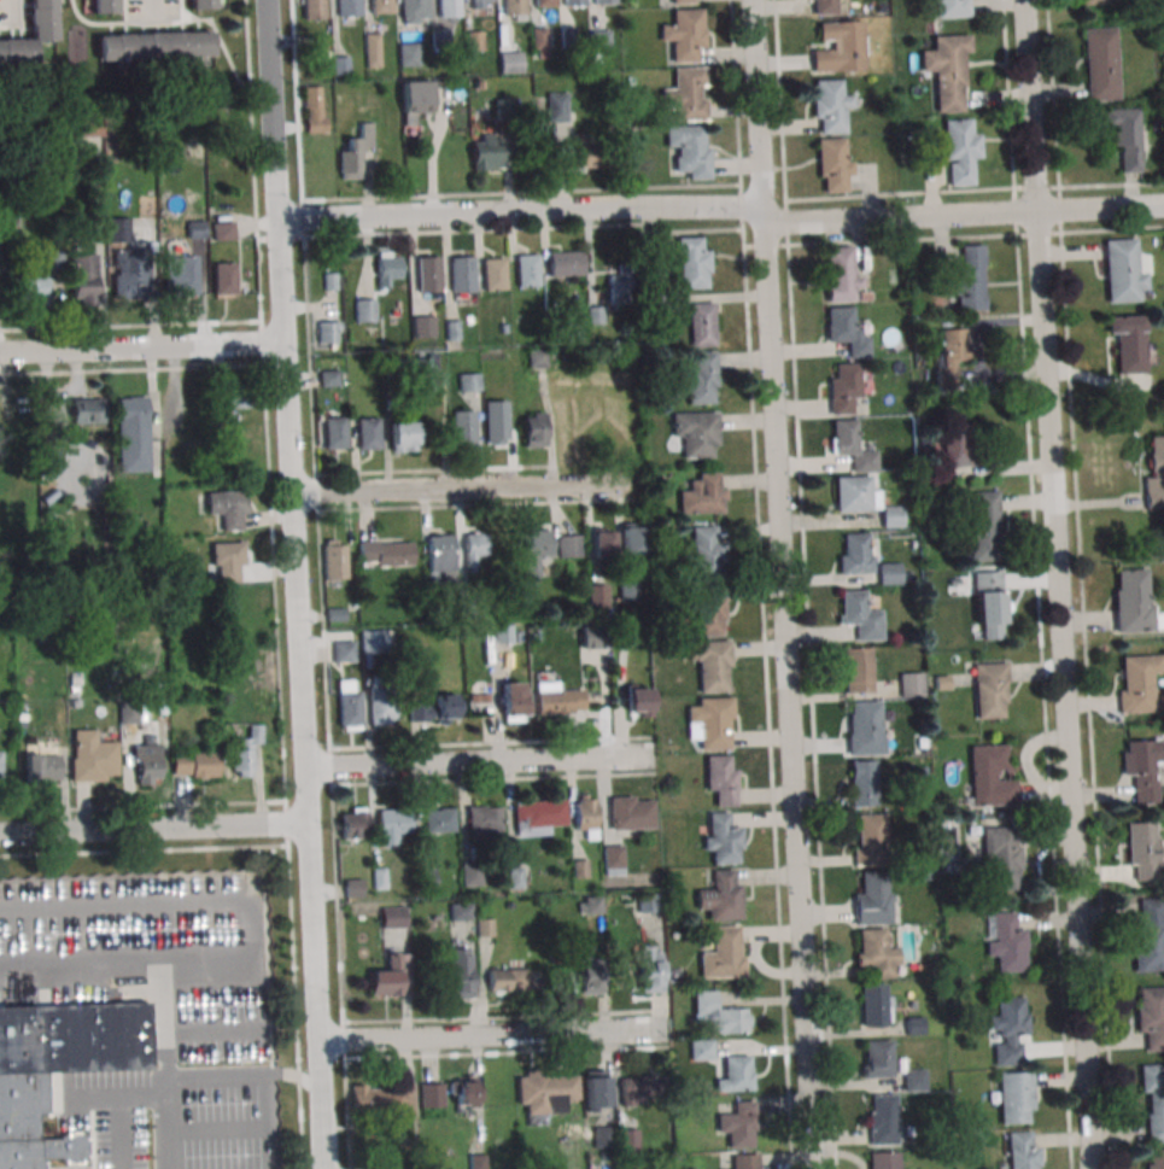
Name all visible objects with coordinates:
building: (603, 1)
building: (679, 1)
road: (150, 2)
building: (543, 2)
building: (572, 2)
building: (1094, 2)
building: (199, 4)
building: (480, 4)
road: (6, 5)
building: (103, 6)
building: (380, 6)
building: (347, 7)
building: (825, 7)
building: (312, 8)
building: (449, 8)
building: (950, 8)
building: (513, 10)
building: (413, 11)
road: (21, 23)
road: (92, 23)
road: (153, 23)
building: (684, 33)
building: (30, 34)
building: (568, 37)
building: (440, 39)
building: (539, 39)
building: (473, 40)
building: (322, 41)
building: (601, 41)
building: (154, 45)
building: (840, 47)
road: (224, 49)
building: (372, 49)
building: (408, 53)
building: (510, 62)
building: (1100, 63)
building: (339, 65)
building: (947, 70)
building: (685, 93)
building: (414, 99)
building: (830, 104)
building: (556, 106)
road: (755, 106)
road: (1028, 107)
building: (315, 109)
building: (505, 109)
road: (273, 110)
building: (86, 125)
building: (1124, 135)
building: (689, 148)
building: (581, 150)
building: (352, 151)
building: (959, 151)
building: (486, 152)
building: (833, 164)
road: (973, 188)
road: (521, 192)
road: (1098, 211)
road: (521, 212)
road: (897, 221)
building: (117, 229)
building: (197, 229)
road: (501, 229)
building: (223, 230)
road: (953, 236)
building: (0, 247)
building: (52, 257)
building: (692, 262)
building: (565, 263)
building: (387, 268)
building: (527, 269)
building: (1121, 270)
building: (427, 273)
building: (493, 273)
building: (462, 274)
building: (181, 275)
building: (841, 275)
building: (83, 276)
building: (224, 277)
building: (131, 279)
building: (967, 279)
road: (282, 280)
building: (331, 281)
building: (619, 286)
building: (31, 290)
building: (668, 303)
building: (364, 310)
building: (595, 315)
building: (701, 323)
road: (130, 325)
building: (423, 325)
building: (503, 328)
building: (452, 331)
building: (846, 331)
building: (329, 332)
building: (1127, 341)
road: (142, 349)
building: (949, 353)
building: (526, 357)
building: (397, 366)
road: (131, 370)
building: (425, 370)
building: (328, 376)
building: (700, 379)
building: (468, 380)
building: (842, 386)
building: (234, 397)
building: (87, 409)
road: (289, 419)
building: (496, 422)
building: (462, 427)
building: (532, 429)
building: (368, 432)
building: (696, 432)
building: (131, 433)
building: (335, 433)
building: (402, 436)
building: (954, 444)
building: (852, 445)
building: (53, 460)
road: (435, 469)
building: (1154, 470)
road: (464, 490)
building: (702, 493)
building: (854, 493)
road: (478, 504)
building: (228, 510)
building: (891, 515)
building: (982, 525)
building: (632, 537)
building: (602, 543)
building: (568, 544)
building: (474, 545)
building: (534, 549)
building: (707, 550)
building: (385, 553)
building: (854, 553)
building: (440, 557)
building: (228, 559)
building: (334, 559)
building: (889, 572)
road: (274, 584)
road: (321, 584)
road: (760, 584)
road: (806, 584)
road: (1036, 584)
road: (1081, 584)
building: (628, 594)
building: (598, 596)
building: (1133, 601)
building: (989, 603)
building: (709, 613)
building: (859, 614)
road: (300, 632)
building: (502, 633)
building: (593, 637)
building: (374, 641)
building: (343, 649)
building: (709, 664)
building: (858, 668)
building: (1137, 680)
building: (911, 684)
building: (990, 689)
road: (789, 690)
road: (1061, 692)
building: (557, 699)
building: (381, 701)
building: (638, 701)
building: (514, 702)
building: (350, 706)
building: (433, 707)
building: (128, 715)
building: (710, 721)
building: (865, 726)
road: (490, 743)
building: (244, 750)
building: (92, 756)
road: (479, 761)
building: (146, 764)
building: (194, 764)
building: (41, 765)
building: (1141, 767)
building: (0, 770)
building: (989, 775)
road: (492, 778)
building: (721, 778)
building: (862, 782)
road: (305, 799)
road: (142, 806)
building: (630, 812)
building: (539, 813)
building: (585, 814)
building: (438, 819)
building: (484, 820)
building: (352, 823)
building: (392, 823)
road: (152, 834)
building: (721, 837)
building: (870, 838)
road: (144, 849)
building: (1141, 851)
building: (1001, 858)
building: (613, 859)
building: (580, 867)
building: (470, 873)
building: (514, 877)
building: (379, 878)
building: (427, 879)
building: (353, 888)
building: (721, 896)
building: (872, 900)
building: (648, 902)
road: (180, 905)
building: (590, 905)
road: (88, 910)
building: (460, 911)
building: (392, 917)
building: (482, 927)
road: (311, 935)
building: (1148, 935)
building: (1006, 942)
building: (876, 951)
building: (723, 953)
building: (649, 968)
building: (458, 972)
road: (177, 974)
building: (391, 975)
building: (591, 976)
building: (511, 978)
building: (875, 1004)
road: (241, 1006)
building: (718, 1015)
road: (505, 1016)
building: (1151, 1016)
building: (913, 1025)
building: (1007, 1029)
road: (492, 1034)
building: (700, 1048)
road: (507, 1052)
building: (877, 1058)
building: (735, 1074)
road: (245, 1079)
building: (914, 1080)
building: (593, 1088)
building: (638, 1088)
building: (22, 1092)
building: (463, 1092)
building: (544, 1092)
building: (431, 1095)
road: (135, 1097)
building: (1016, 1097)
building: (1153, 1098)
building: (382, 1099)
road: (320, 1104)
building: (882, 1118)
building: (737, 1123)
road: (200, 1124)
road: (246, 1124)
road: (105, 1133)
building: (626, 1140)
building: (1023, 1150)
building: (1154, 1158)
building: (884, 1159)
building: (476, 1161)
building: (745, 1161)

